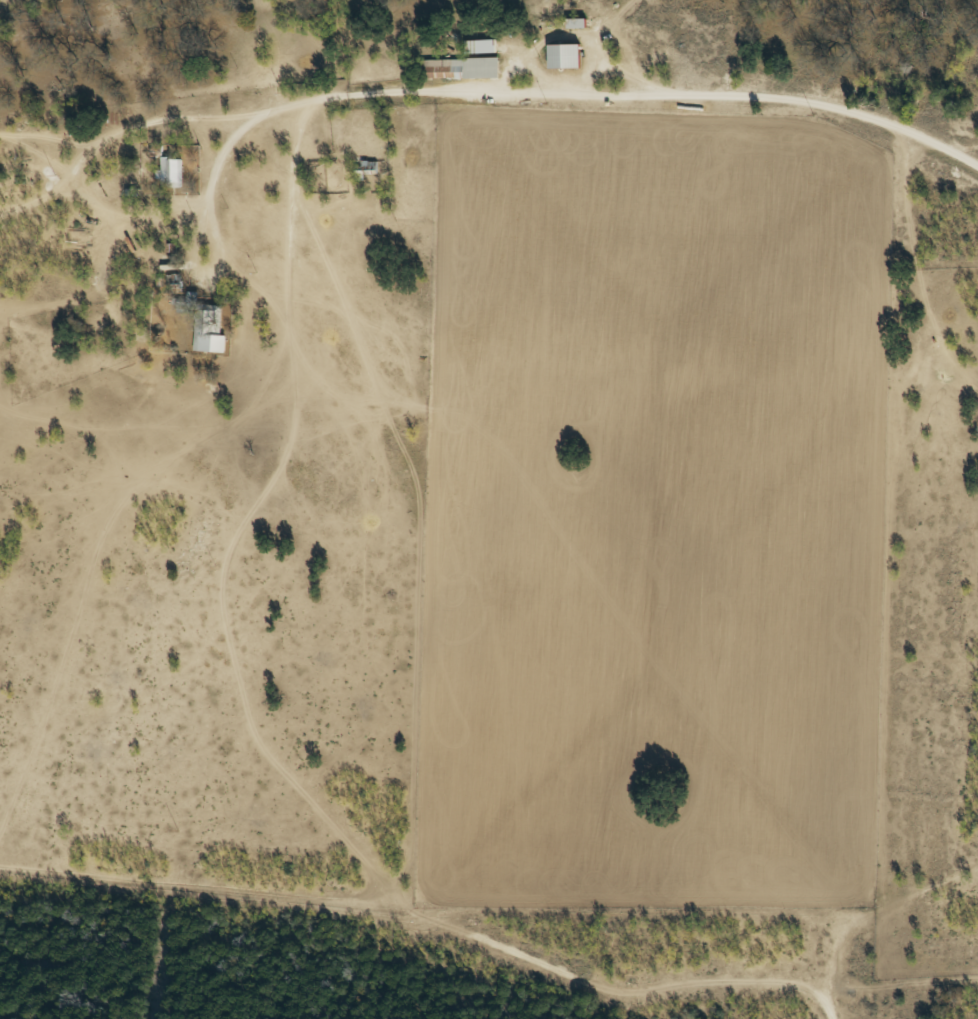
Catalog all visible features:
building: (563, 56)
building: (460, 68)
road: (483, 108)
building: (173, 172)
building: (172, 280)
building: (198, 335)
road: (883, 897)

